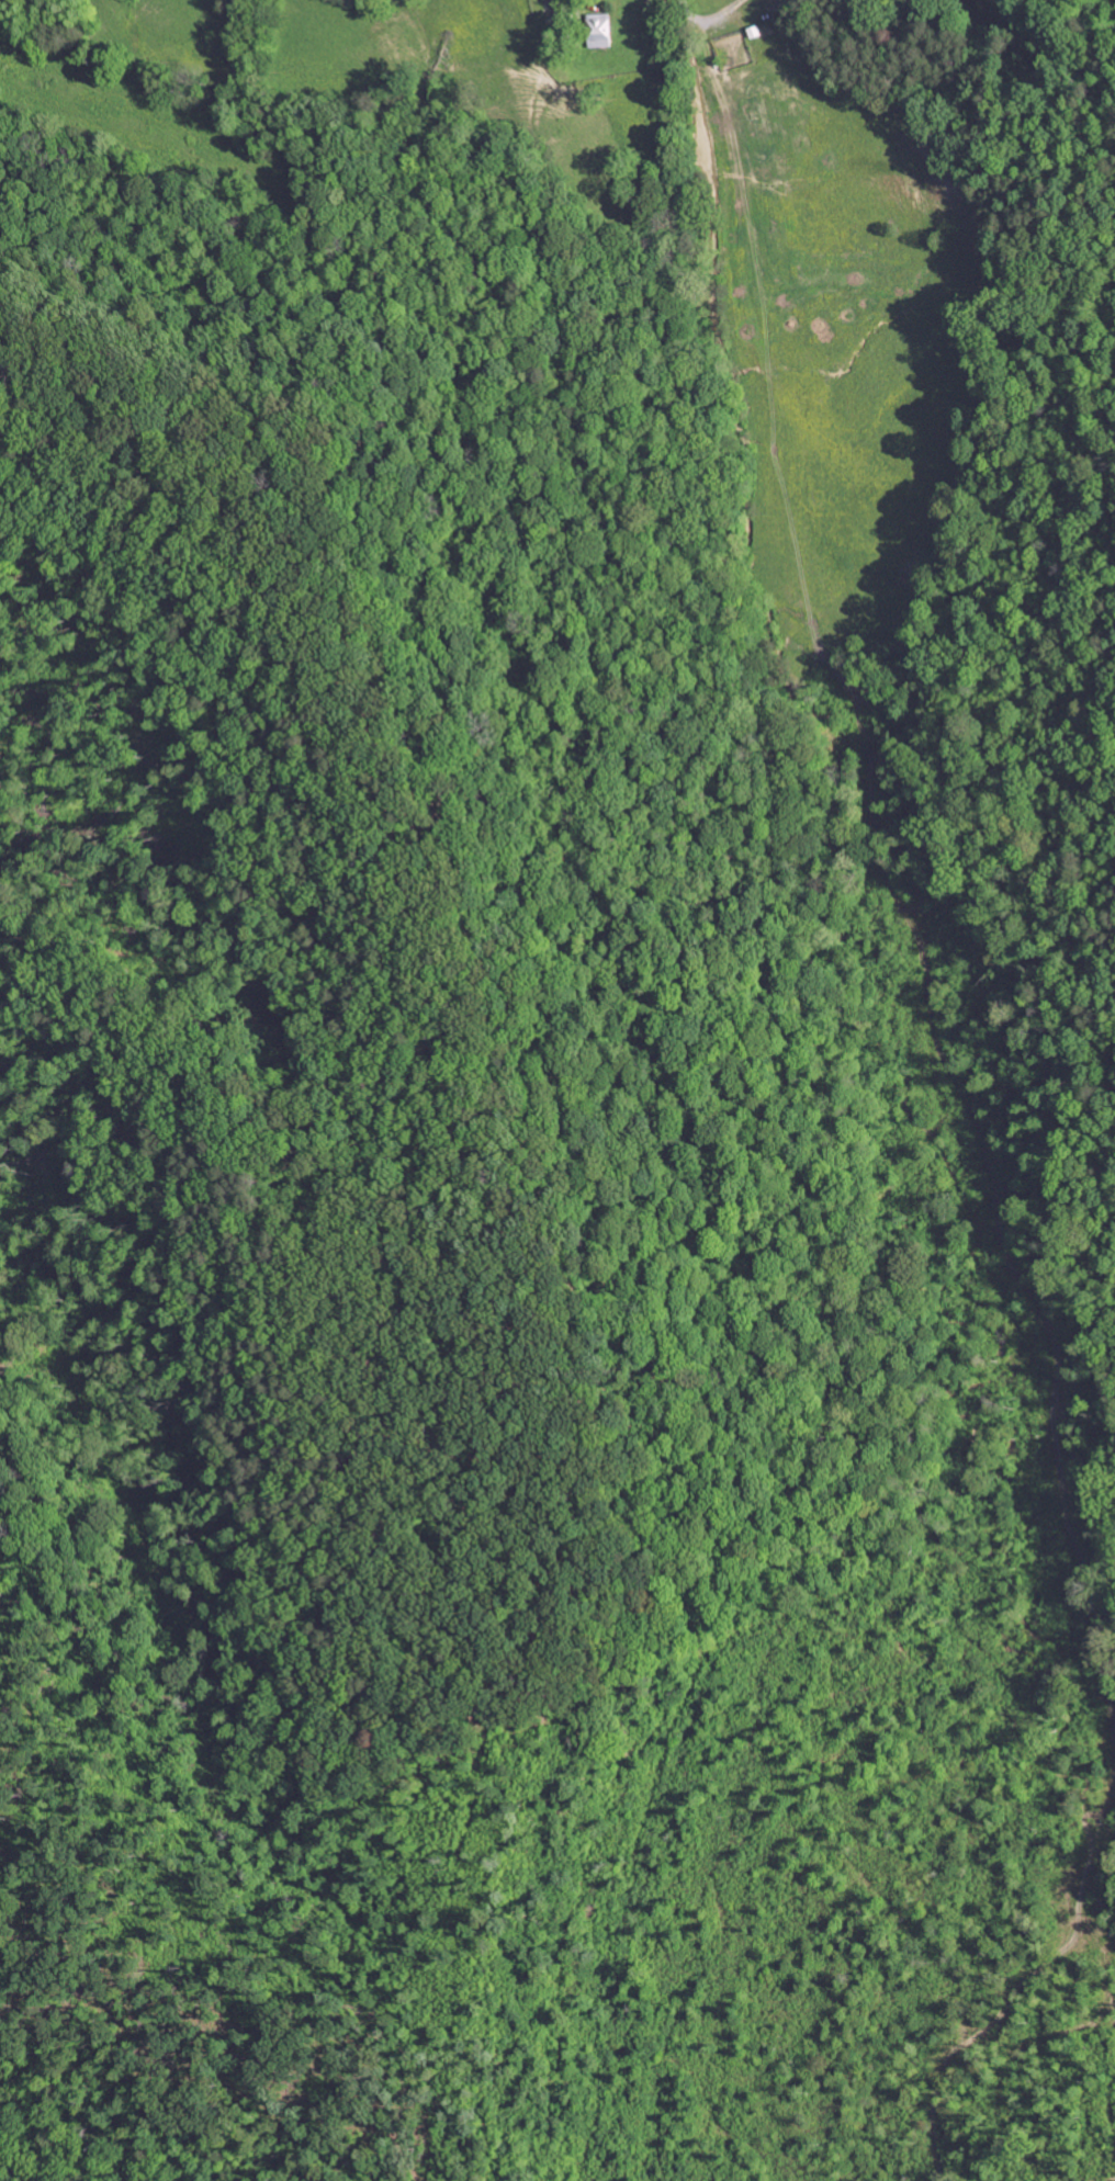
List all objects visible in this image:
building: (600, 30)

